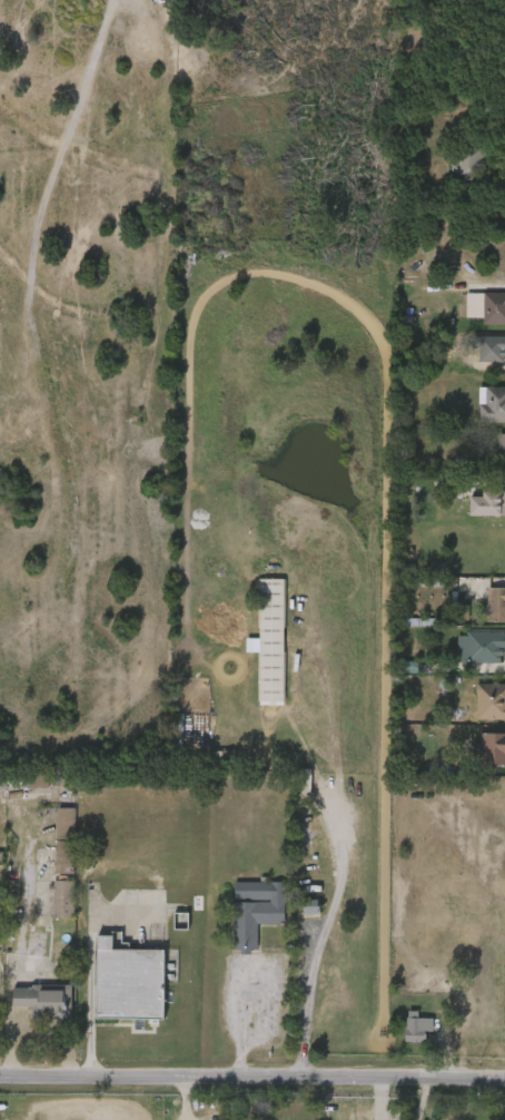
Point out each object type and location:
building: (479, 1)
building: (473, 160)
building: (452, 175)
building: (494, 305)
building: (493, 403)
building: (503, 452)
building: (487, 502)
building: (475, 513)
building: (497, 602)
building: (483, 613)
building: (273, 638)
building: (482, 645)
building: (256, 651)
building: (466, 656)
building: (492, 699)
building: (477, 710)
building: (493, 747)
building: (477, 758)
building: (36, 778)
building: (66, 838)
building: (50, 849)
building: (47, 907)
building: (257, 908)
building: (296, 915)
building: (128, 981)
road: (308, 995)
building: (44, 1000)
building: (30, 1010)
road: (240, 1018)
building: (418, 1025)
road: (91, 1029)
building: (482, 1031)
road: (8, 1032)
building: (402, 1035)
road: (251, 1080)
road: (194, 1100)

